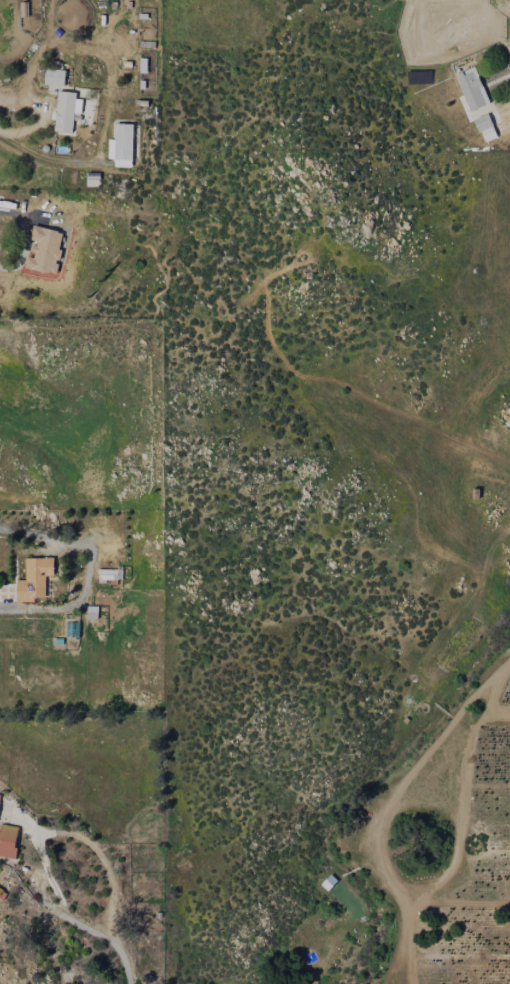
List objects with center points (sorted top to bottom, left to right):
building: (54, 77)
building: (471, 88)
building: (66, 110)
building: (485, 127)
building: (121, 145)
road: (49, 159)
road: (7, 213)
building: (44, 249)
road: (85, 570)
building: (109, 574)
building: (34, 578)
building: (92, 612)
road: (482, 688)
road: (49, 831)
building: (8, 840)
road: (405, 884)
road: (125, 962)

